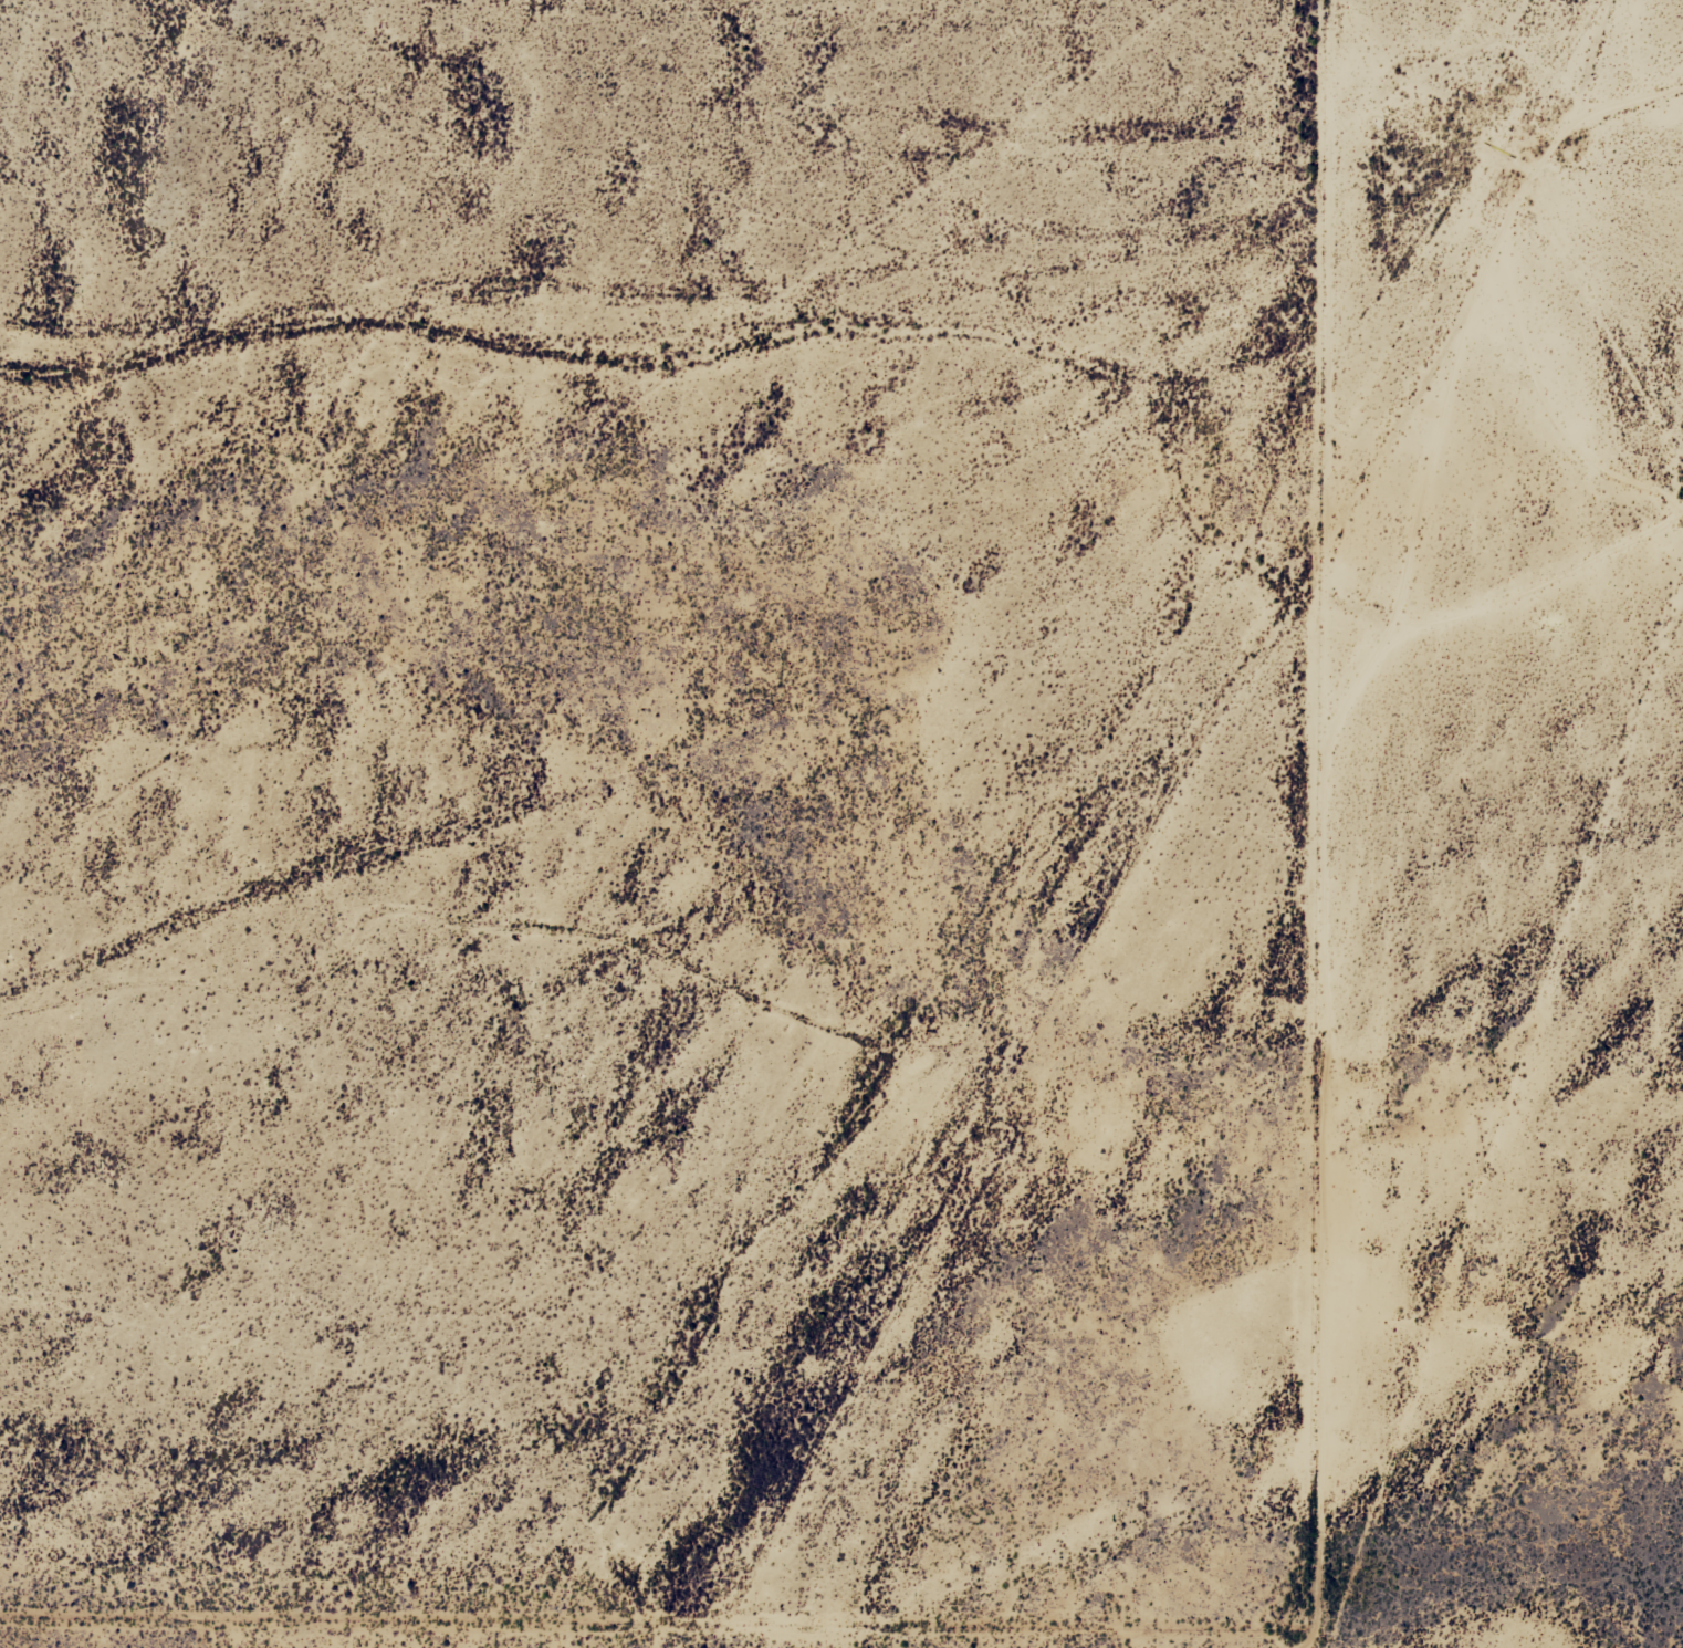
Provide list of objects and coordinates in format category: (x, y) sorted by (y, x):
road: (850, 300)

